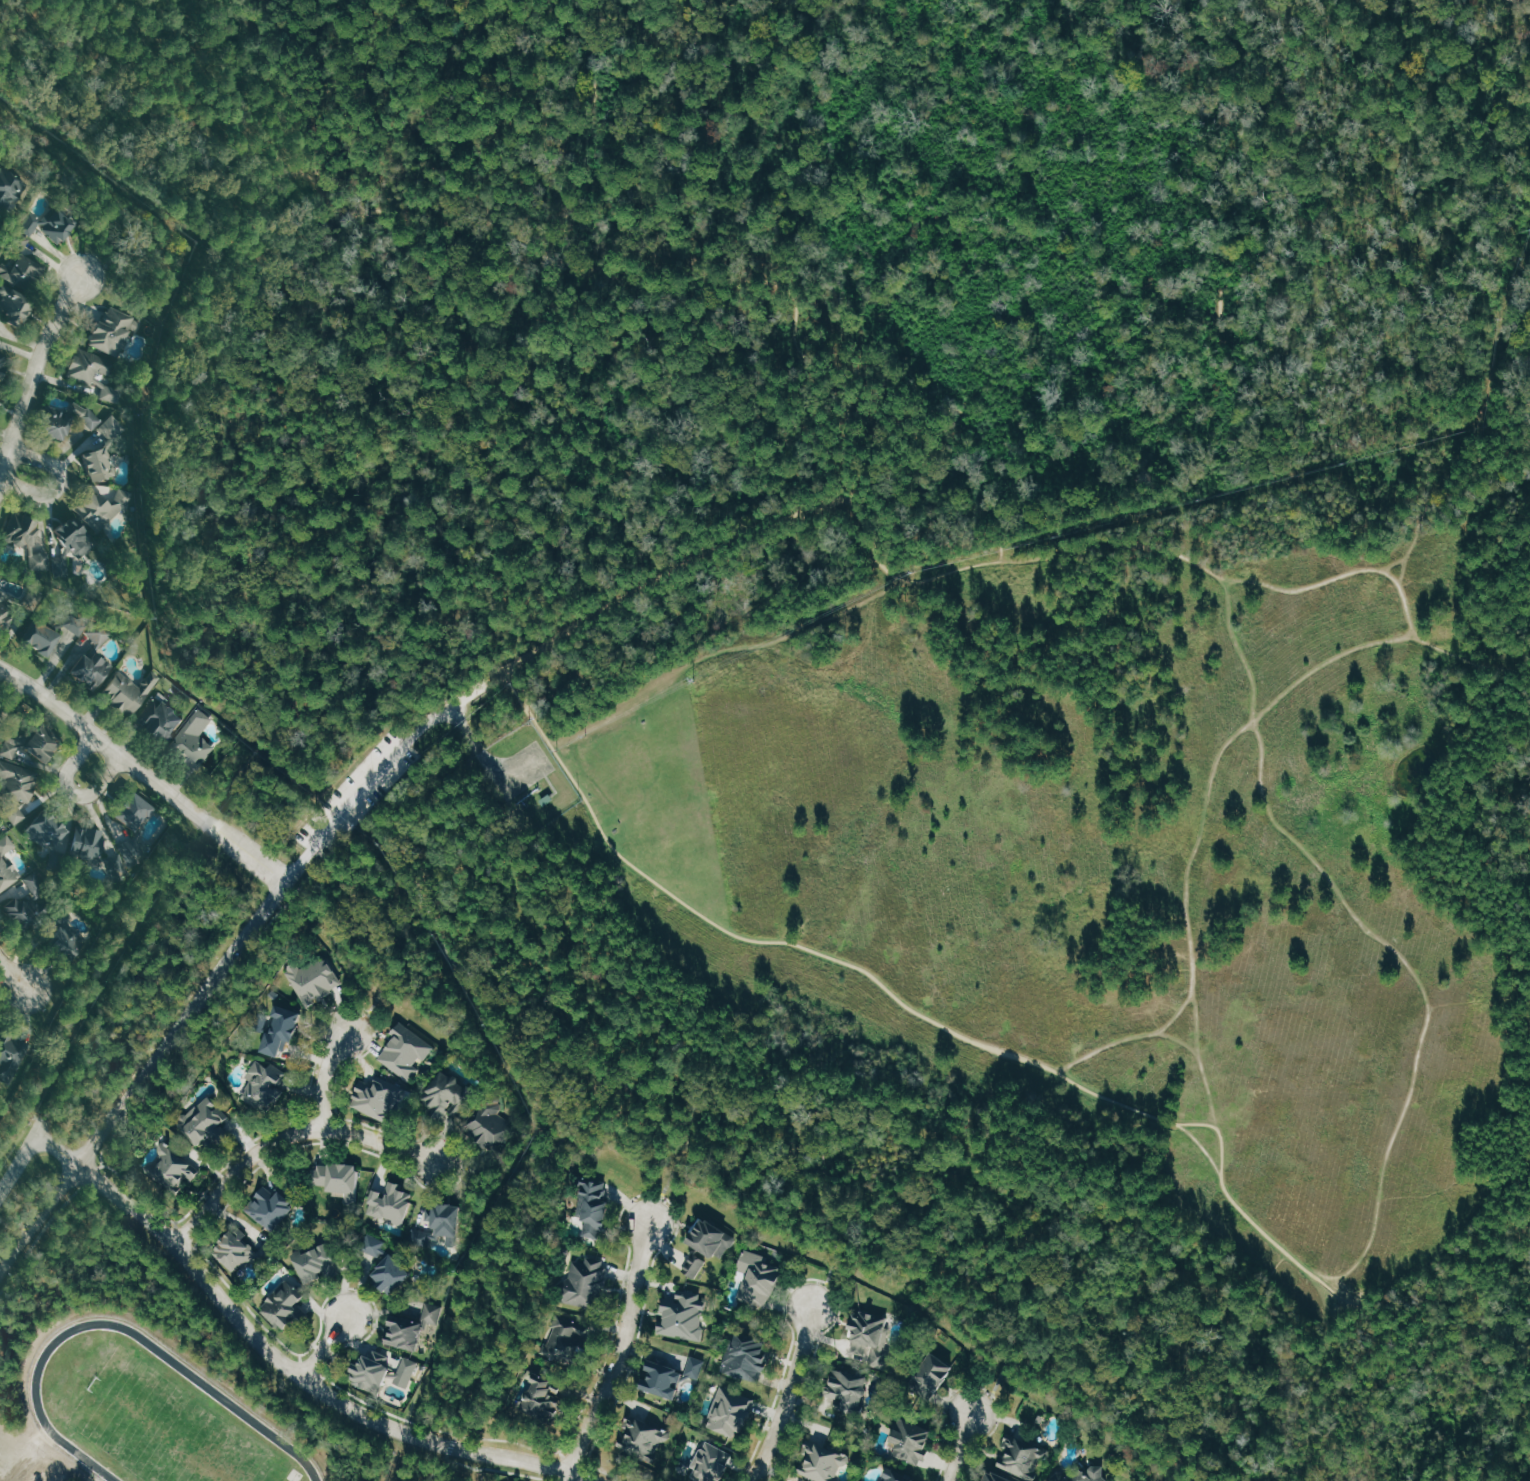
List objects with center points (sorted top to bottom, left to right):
road: (1289, 18)
road: (1448, 22)
road: (150, 24)
road: (362, 37)
road: (15, 39)
road: (1484, 75)
road: (219, 82)
road: (312, 91)
road: (263, 112)
road: (256, 127)
road: (279, 152)
road: (313, 175)
road: (1013, 179)
building: (9, 188)
road: (343, 201)
road: (444, 206)
road: (388, 211)
road: (482, 218)
building: (49, 226)
road: (1516, 247)
road: (1214, 258)
building: (21, 264)
road: (732, 277)
road: (536, 285)
building: (14, 306)
building: (110, 331)
building: (2, 362)
road: (925, 365)
road: (34, 374)
building: (81, 375)
building: (0, 391)
road: (956, 417)
building: (67, 421)
road: (1471, 428)
building: (103, 449)
road: (59, 481)
building: (100, 507)
road: (711, 532)
building: (26, 537)
building: (69, 543)
road: (1107, 543)
road: (1395, 563)
road: (1336, 576)
road: (903, 579)
road: (633, 588)
building: (4, 604)
park: (905, 627)
building: (46, 633)
building: (93, 659)
road: (728, 665)
road: (1474, 665)
building: (128, 690)
building: (0, 705)
building: (158, 719)
building: (192, 741)
building: (33, 742)
road: (143, 771)
road: (368, 785)
building: (15, 788)
road: (1209, 788)
road: (74, 790)
parking lot: (363, 798)
building: (133, 821)
building: (47, 836)
building: (95, 849)
building: (6, 861)
building: (27, 900)
road: (276, 904)
road: (1368, 925)
building: (62, 938)
road: (755, 940)
road: (14, 969)
building: (313, 976)
road: (386, 978)
road: (202, 1013)
road: (1177, 1013)
building: (0, 1019)
road: (182, 1022)
building: (280, 1028)
road: (1162, 1036)
building: (404, 1050)
building: (11, 1056)
road: (325, 1076)
building: (263, 1086)
road: (332, 1090)
building: (442, 1093)
building: (376, 1097)
road: (1131, 1106)
building: (486, 1120)
building: (203, 1122)
road: (283, 1140)
road: (60, 1149)
road: (19, 1164)
building: (172, 1167)
road: (485, 1170)
road: (773, 1175)
road: (92, 1176)
road: (669, 1176)
building: (336, 1177)
building: (390, 1202)
building: (272, 1205)
building: (593, 1205)
road: (1241, 1210)
road: (41, 1218)
building: (437, 1223)
road: (181, 1236)
road: (37, 1238)
building: (708, 1242)
building: (239, 1250)
building: (316, 1262)
road: (832, 1262)
building: (387, 1269)
road: (512, 1276)
building: (756, 1278)
road: (812, 1278)
building: (586, 1284)
road: (621, 1289)
building: (282, 1307)
building: (683, 1314)
road: (319, 1326)
road: (1387, 1326)
building: (411, 1327)
building: (870, 1335)
building: (565, 1342)
road: (324, 1346)
road: (621, 1353)
building: (747, 1357)
road: (309, 1368)
building: (383, 1371)
road: (1002, 1371)
building: (670, 1375)
building: (930, 1375)
road: (303, 1378)
road: (1475, 1382)
road: (974, 1385)
building: (848, 1388)
road: (786, 1397)
building: (542, 1398)
track: (227, 1402)
building: (729, 1410)
park: (165, 1427)
building: (642, 1439)
building: (910, 1440)
road: (957, 1448)
road: (1181, 1455)
building: (1021, 1456)
road: (572, 1459)
building: (822, 1462)
building: (709, 1463)
road: (494, 1469)
road: (604, 1472)
building: (1081, 1473)
building: (893, 1474)
building: (995, 1476)
road: (565, 1477)
building: (864, 1479)

